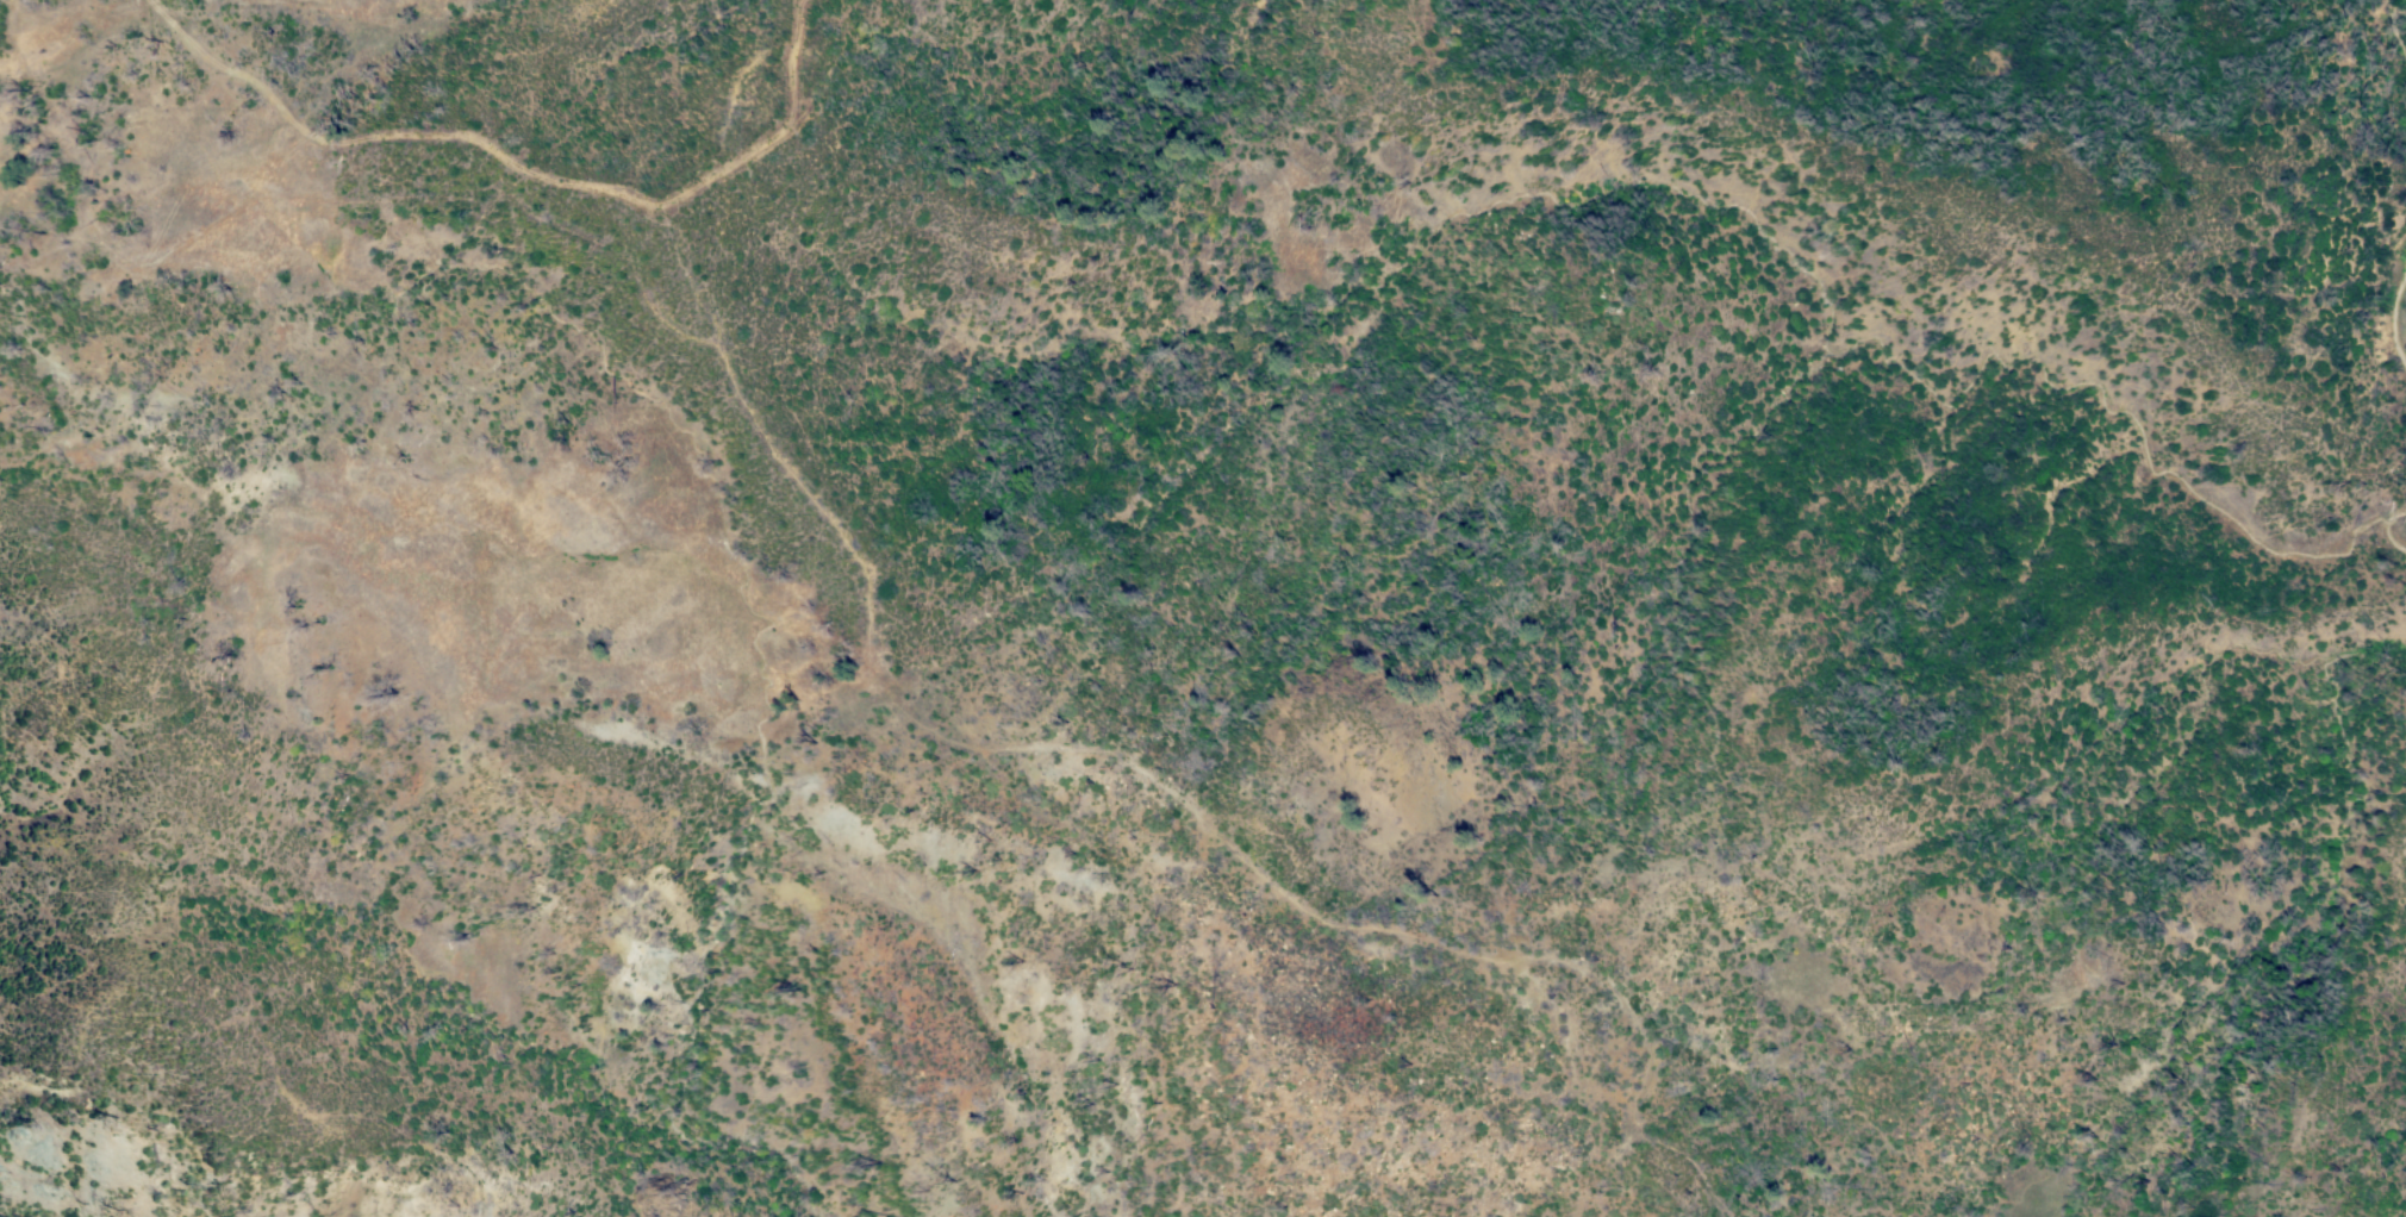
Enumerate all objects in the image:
road: (253, 82)
road: (875, 604)
road: (39, 1088)

